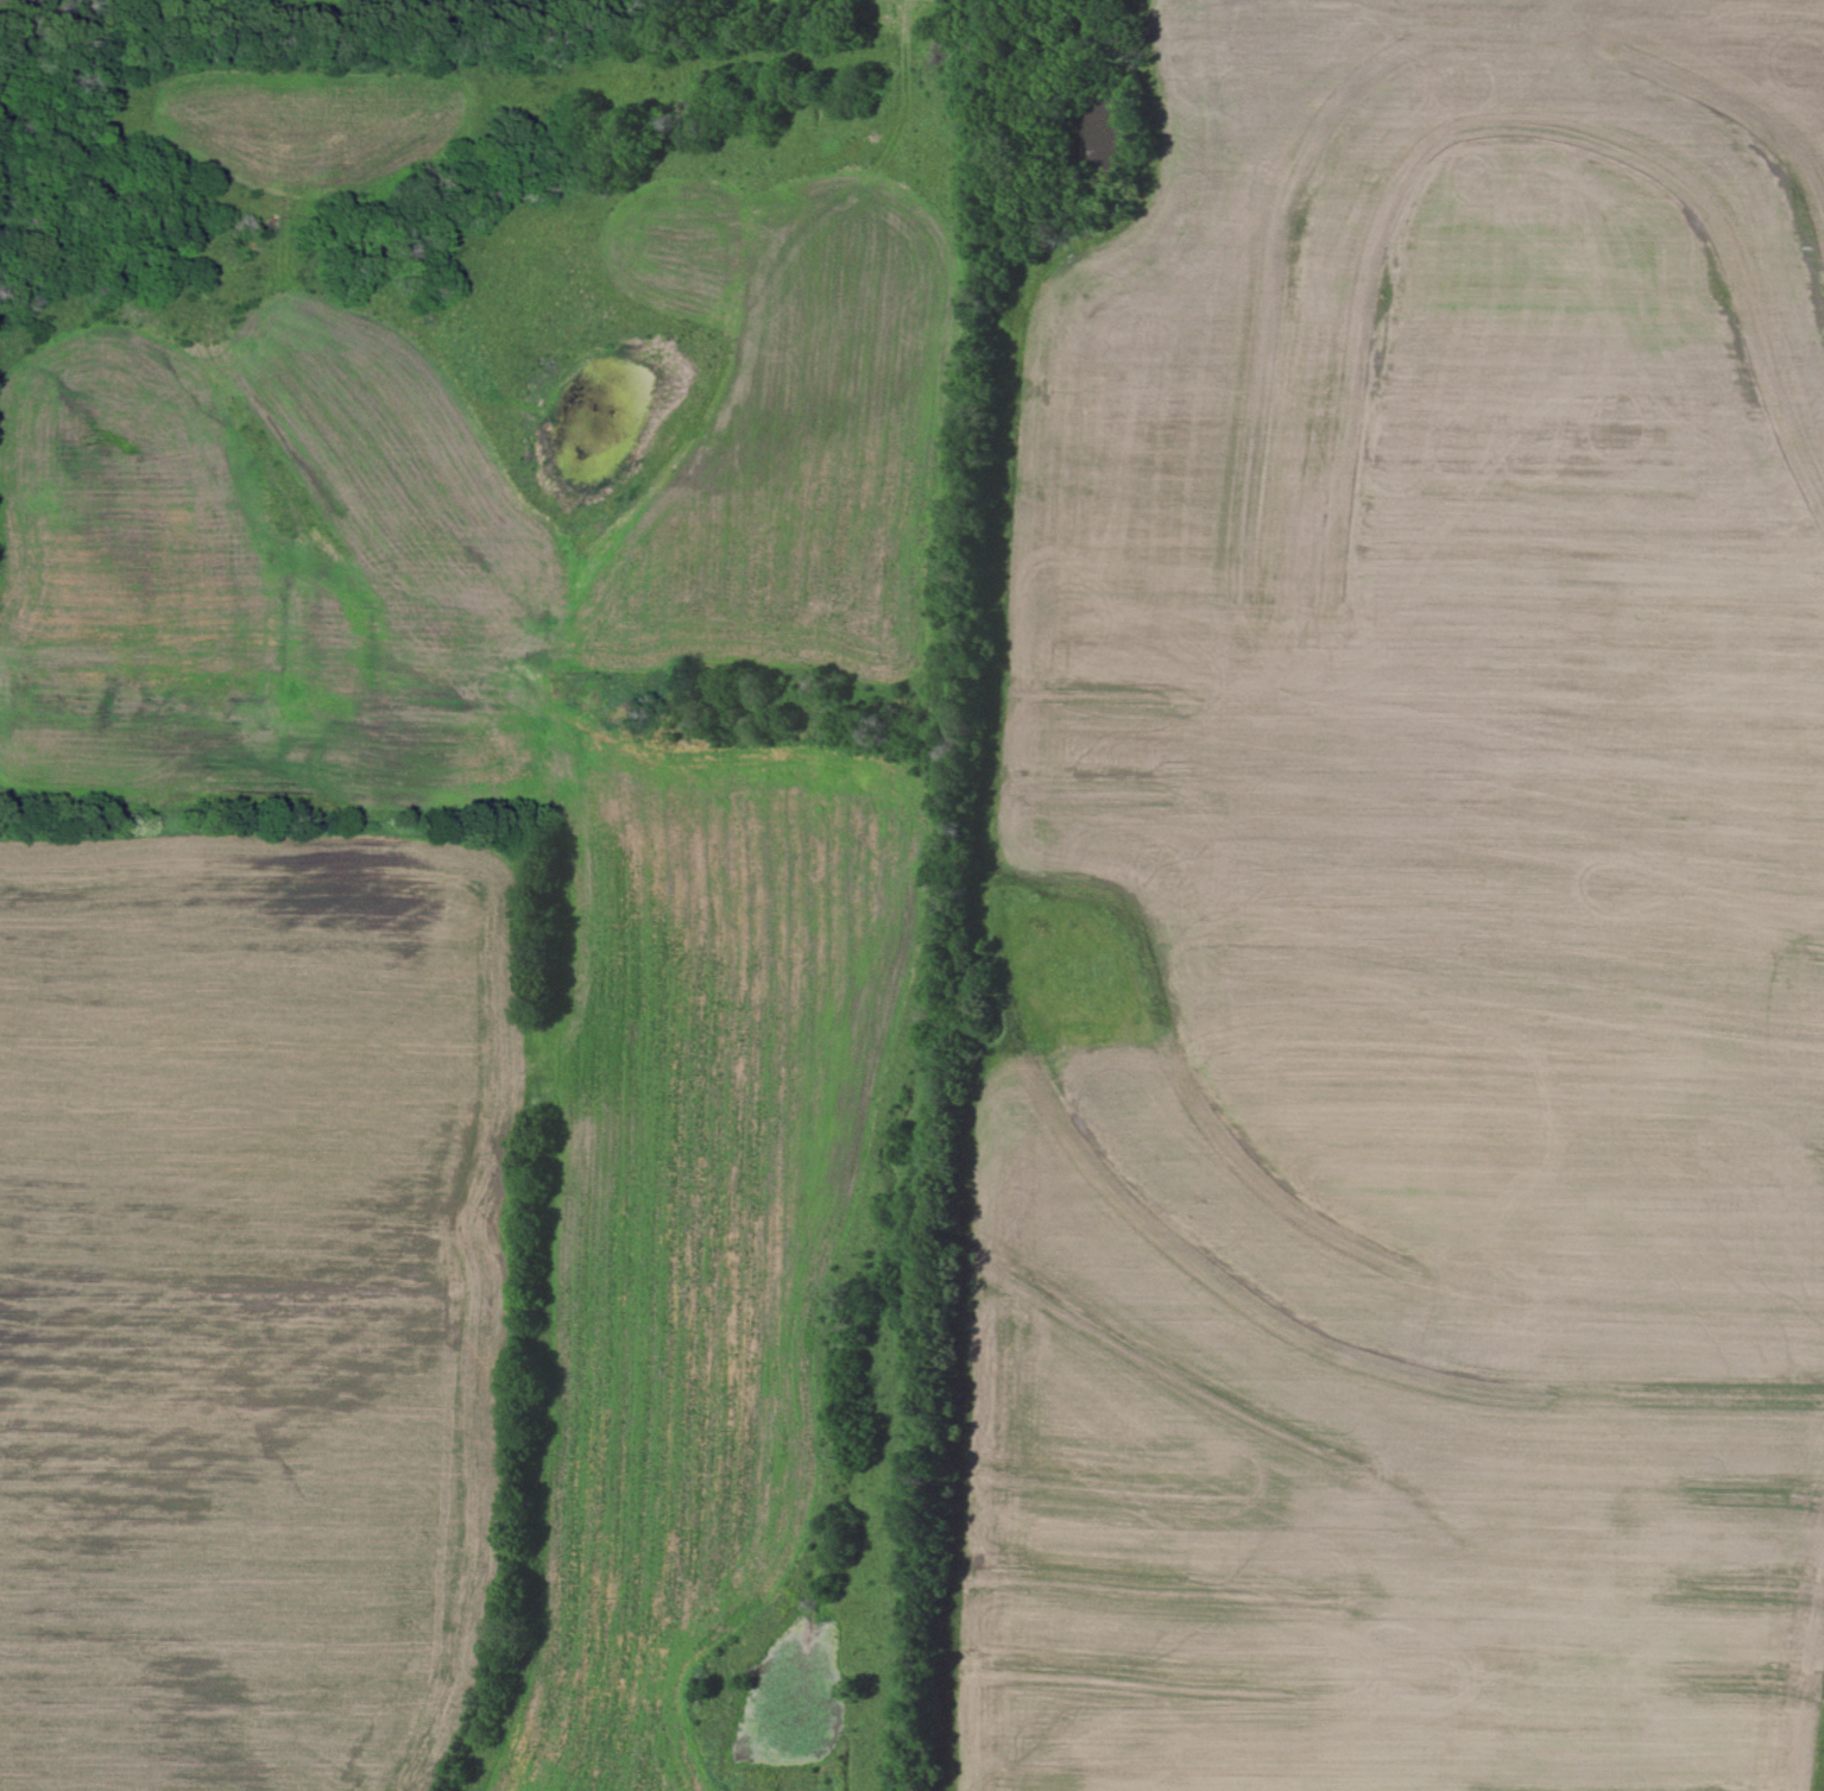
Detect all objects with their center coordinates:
crop: (630, 1)
crop: (1412, 927)
crop: (250, 1304)
road: (623, 1436)

